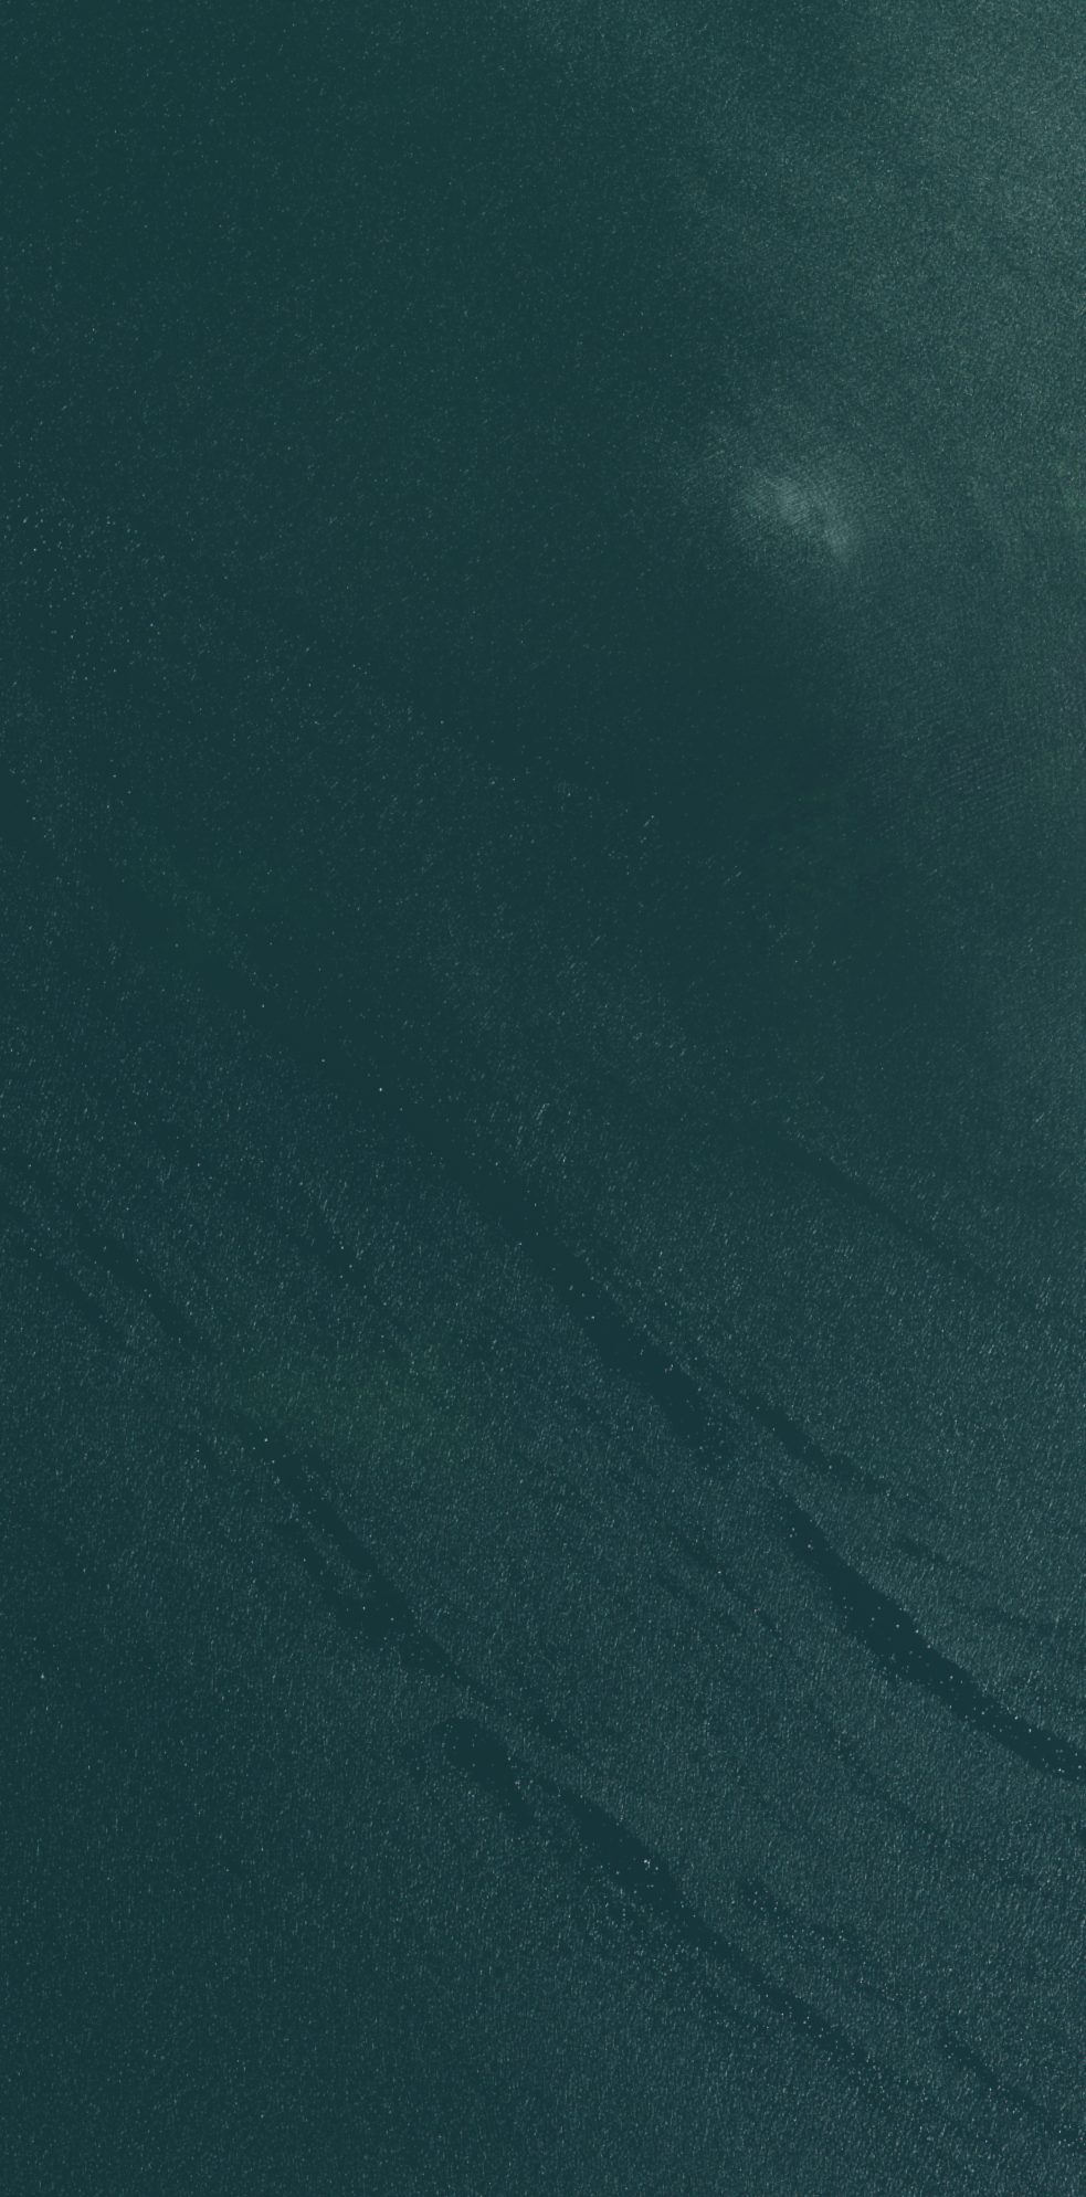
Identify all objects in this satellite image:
river: (470, 2030)

